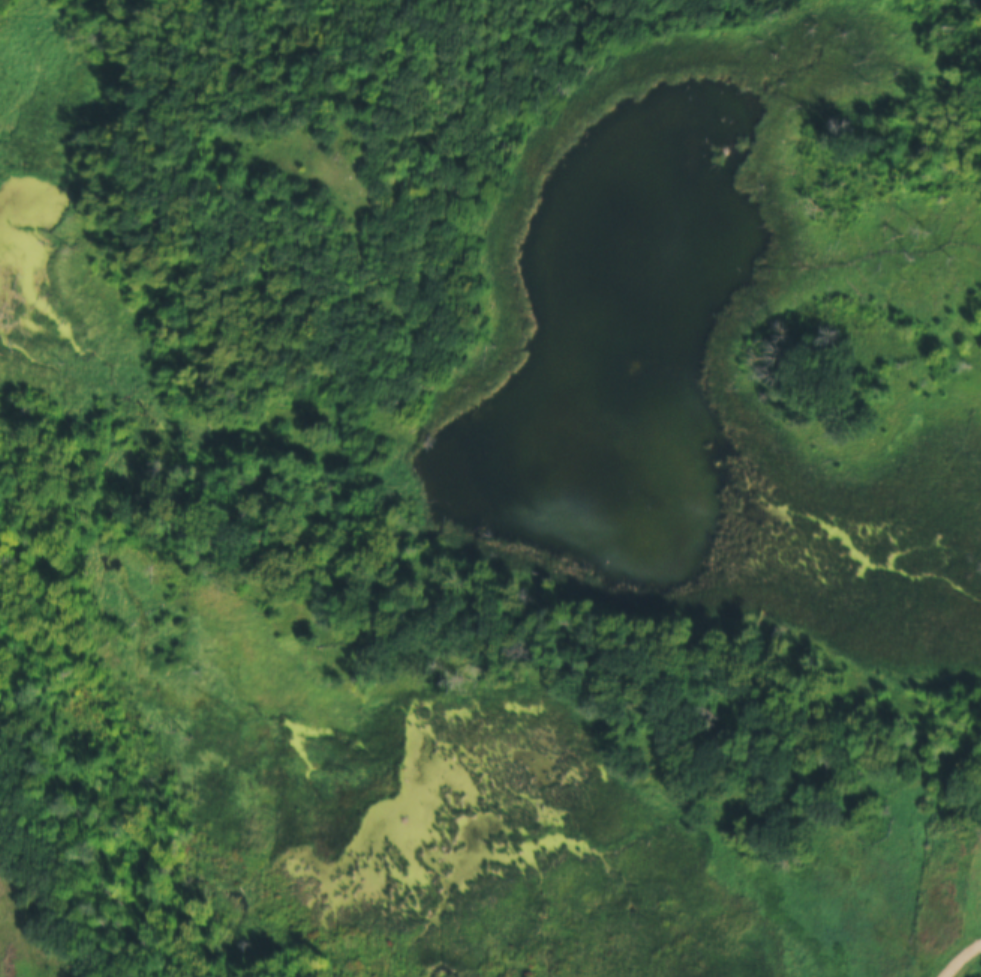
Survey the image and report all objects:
road: (961, 958)

